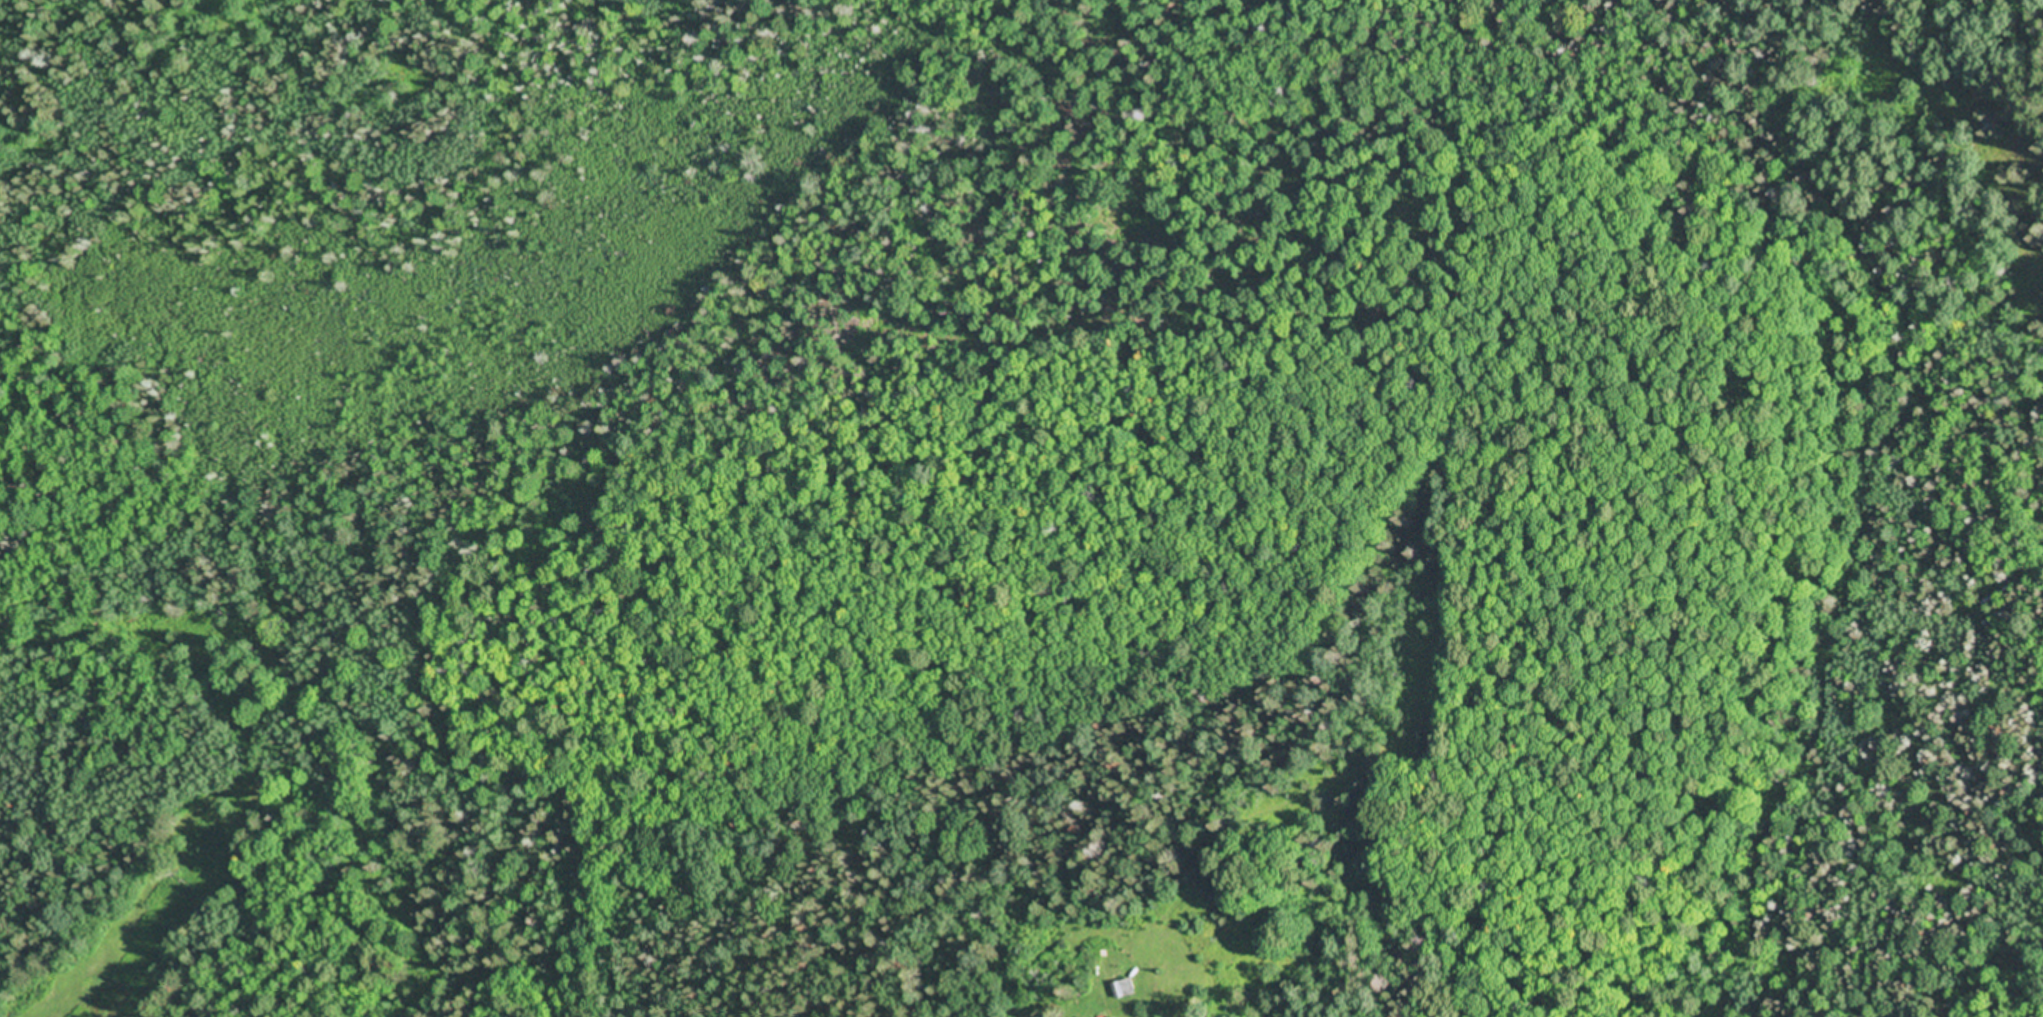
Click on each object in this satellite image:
building: (1123, 988)

